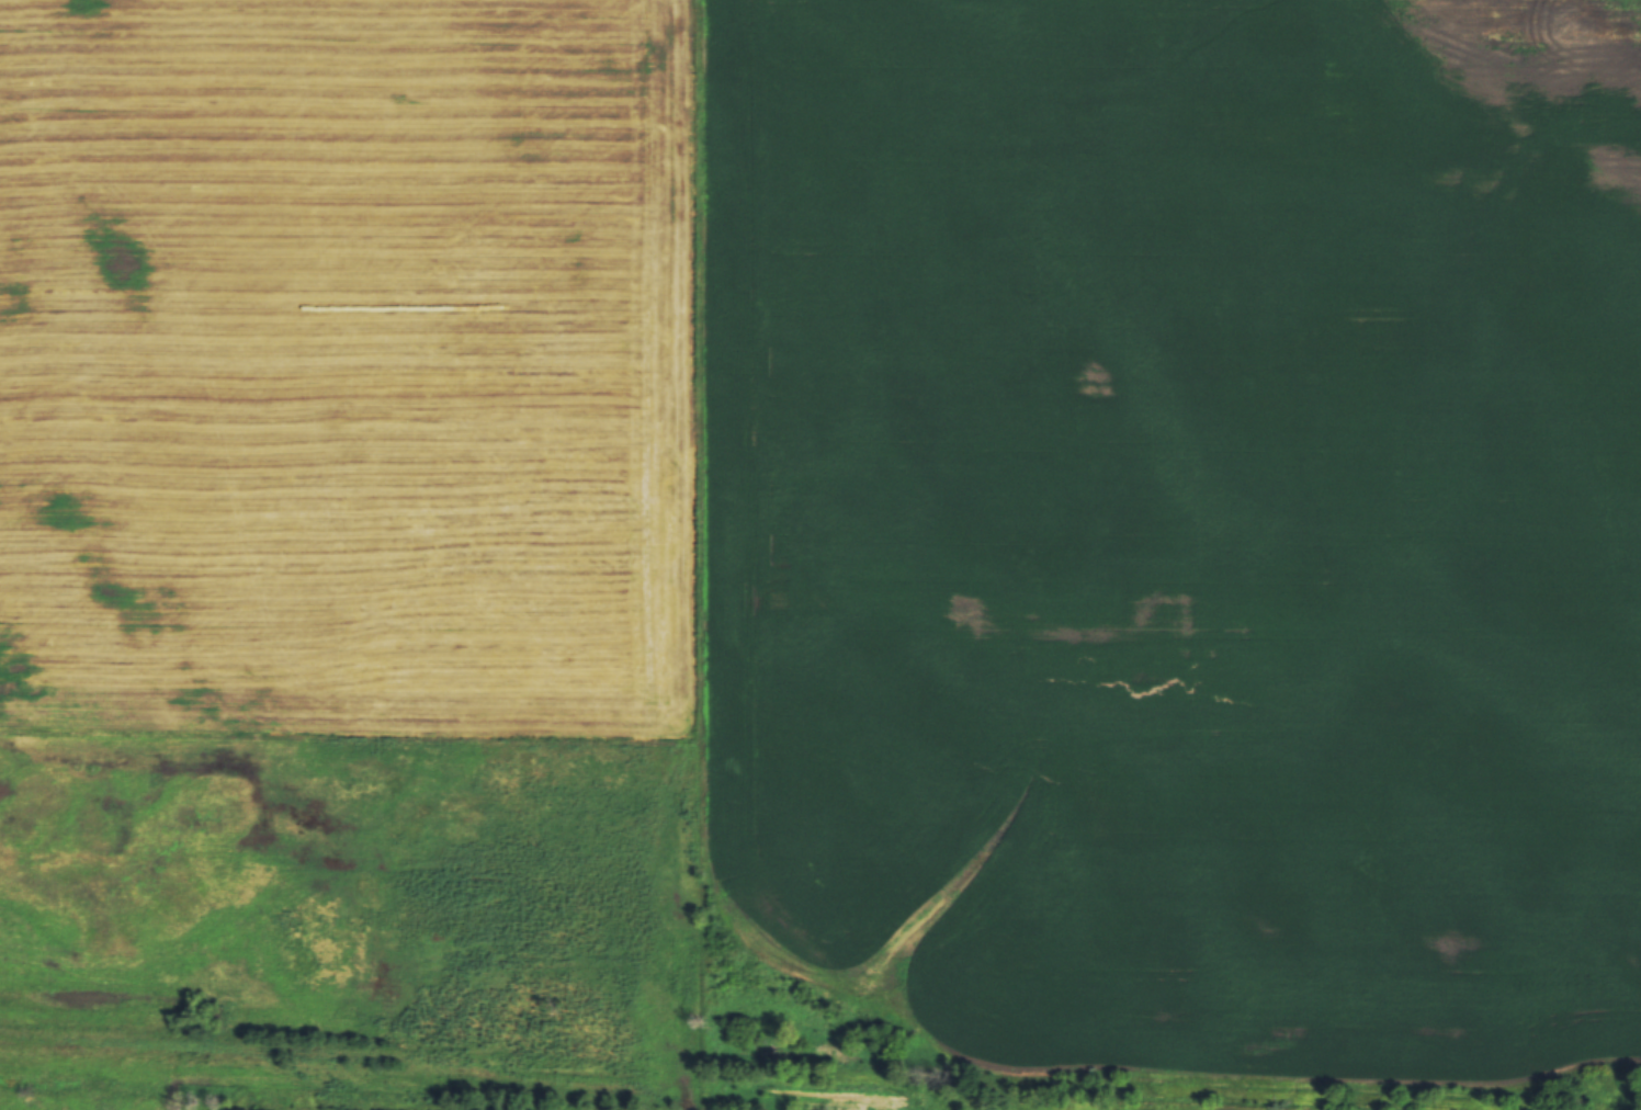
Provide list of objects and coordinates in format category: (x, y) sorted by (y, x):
road: (694, 555)

